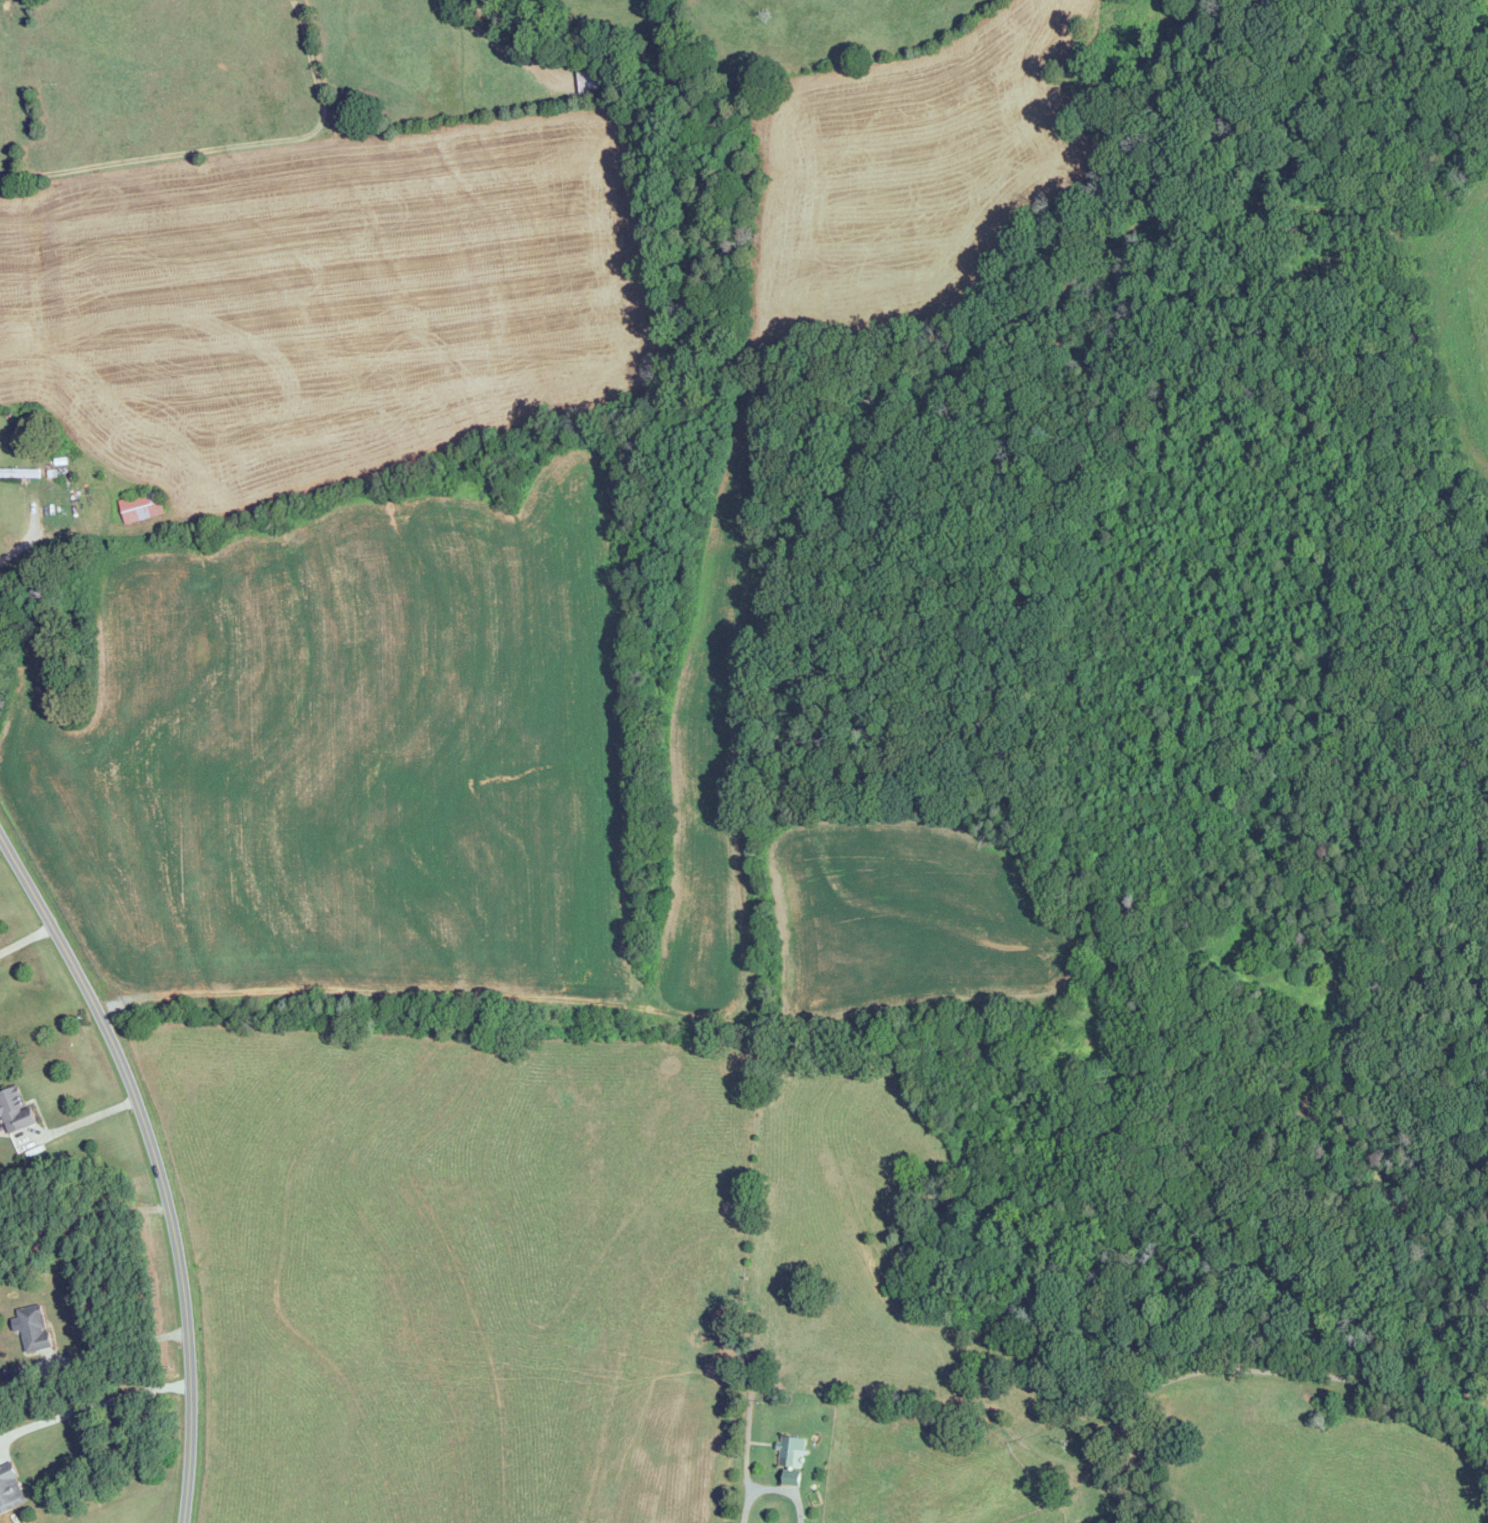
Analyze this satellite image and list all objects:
river: (1482, 3)
road: (494, 10)
road: (223, 148)
building: (19, 473)
building: (141, 507)
road: (26, 541)
road: (25, 939)
road: (698, 1018)
building: (15, 1109)
road: (81, 1122)
road: (156, 1162)
building: (34, 1328)
road: (116, 1340)
road: (93, 1394)
building: (792, 1448)
building: (10, 1490)
road: (745, 1497)

